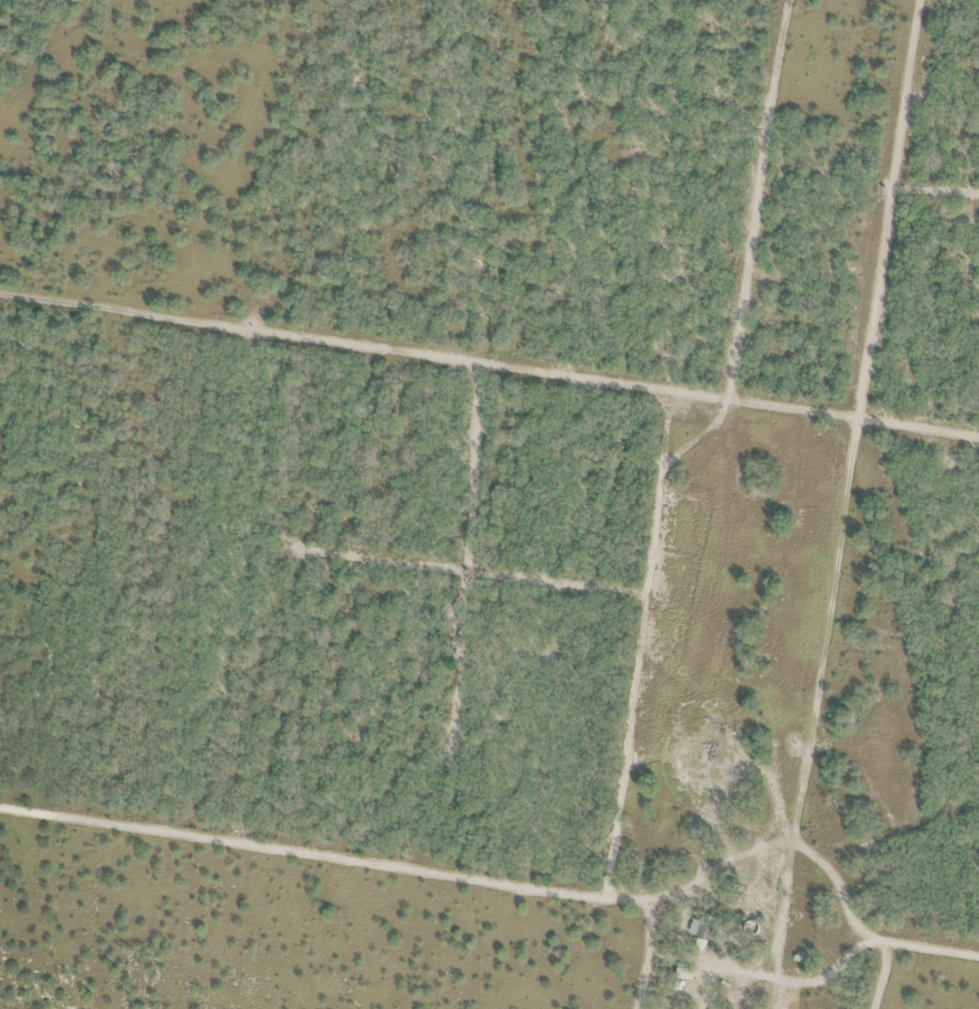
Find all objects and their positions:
road: (877, 928)
building: (705, 930)
building: (684, 974)

